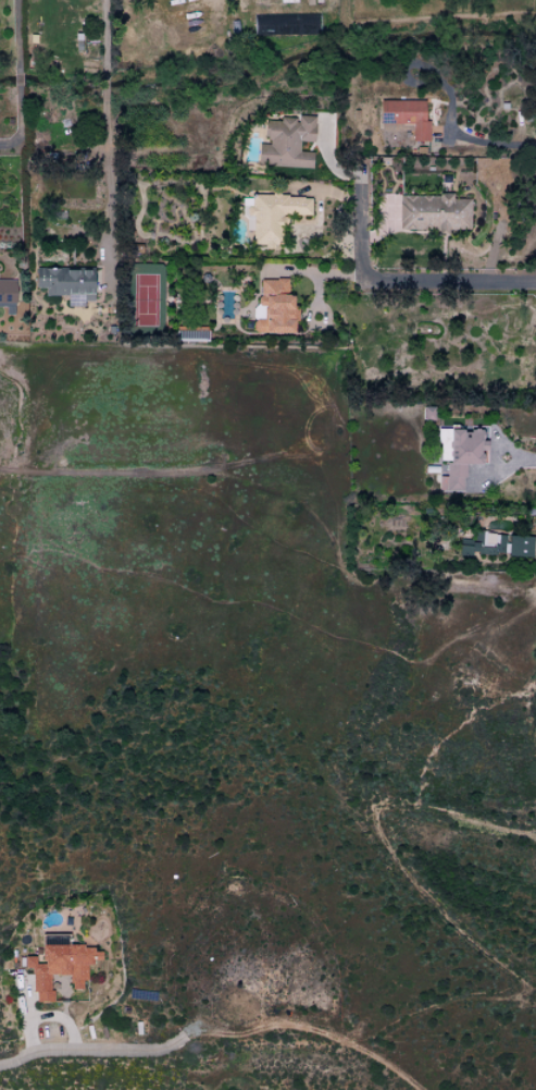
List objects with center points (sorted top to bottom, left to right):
road: (428, 19)
road: (107, 76)
road: (18, 79)
building: (404, 115)
building: (286, 143)
road: (488, 144)
road: (108, 199)
road: (359, 201)
building: (433, 212)
building: (270, 215)
road: (449, 282)
building: (65, 283)
building: (7, 295)
building: (273, 307)
building: (427, 413)
building: (458, 455)
building: (483, 543)
building: (519, 546)
building: (58, 965)
road: (308, 1030)
road: (91, 1051)

